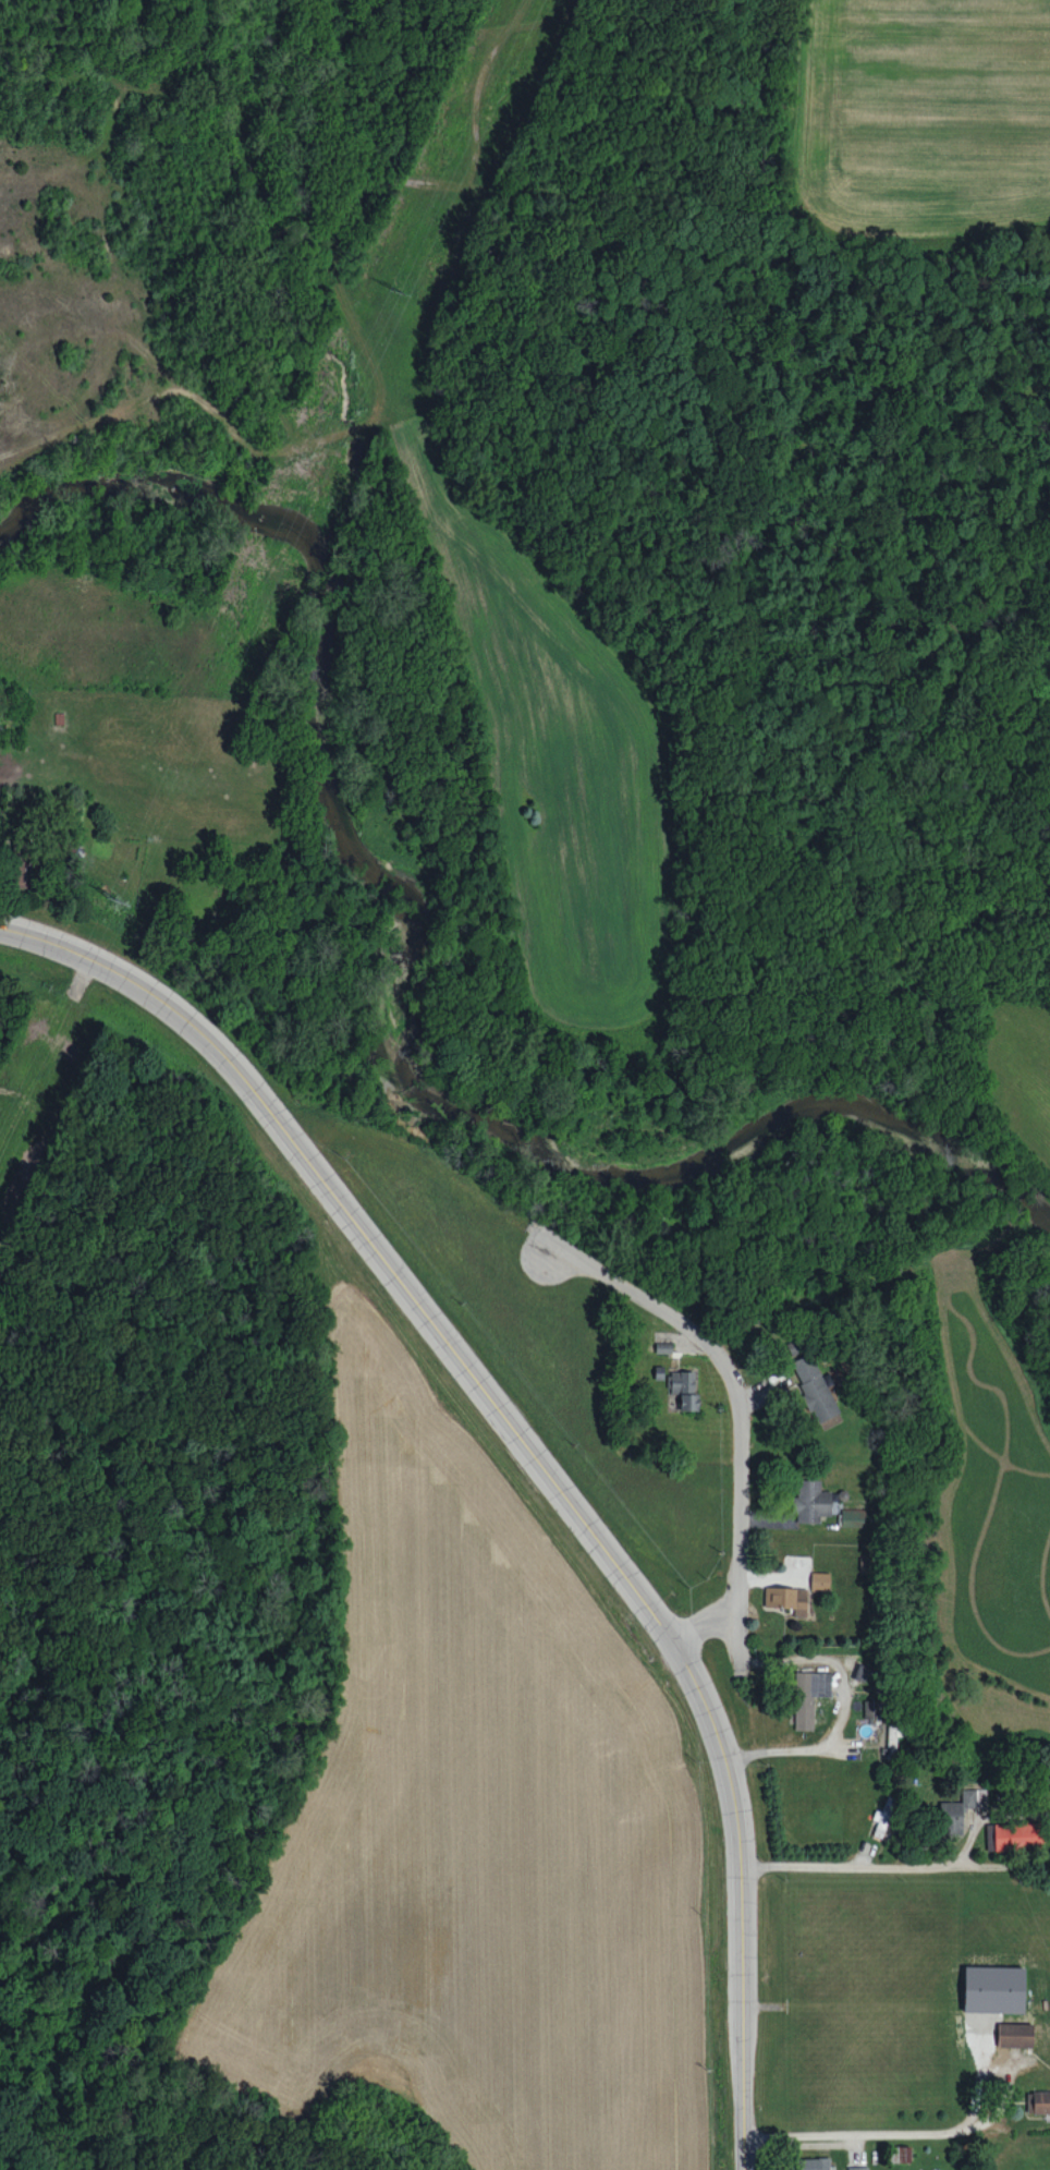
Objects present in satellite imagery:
river: (382, 980)
road: (565, 1260)
building: (683, 1389)
building: (815, 1389)
road: (737, 1397)
road: (533, 1459)
building: (810, 1501)
building: (853, 1517)
building: (820, 1580)
building: (786, 1598)
road: (705, 1626)
building: (808, 1695)
building: (871, 1708)
road: (843, 1711)
building: (955, 1813)
building: (1013, 1835)
road: (961, 1854)
road: (846, 1868)
building: (993, 1989)
building: (1014, 2034)
building: (1038, 2101)
road: (892, 2134)
building: (900, 2154)
building: (815, 2163)
building: (857, 2168)

